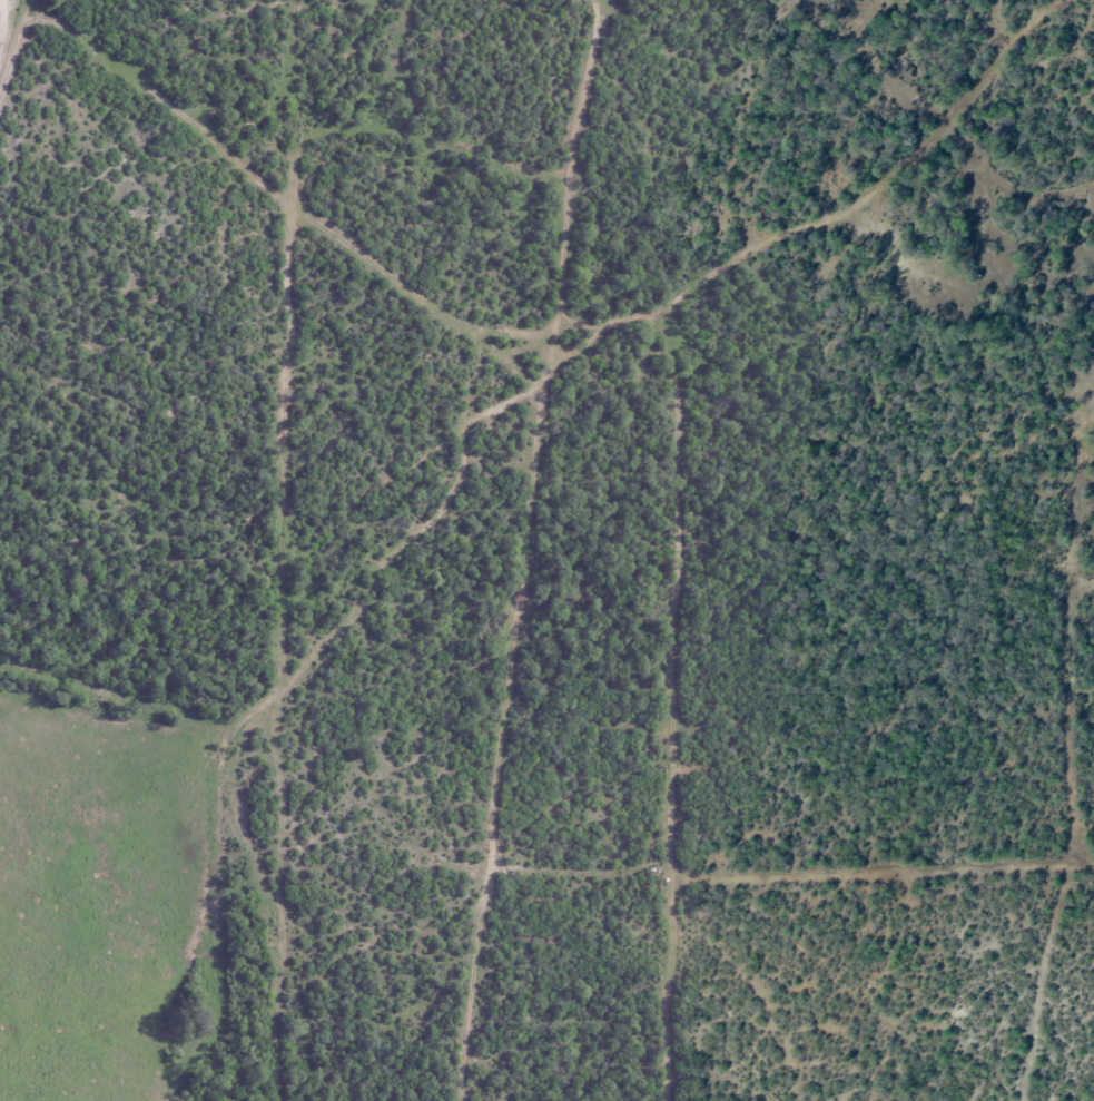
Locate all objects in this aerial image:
road: (2, 37)

